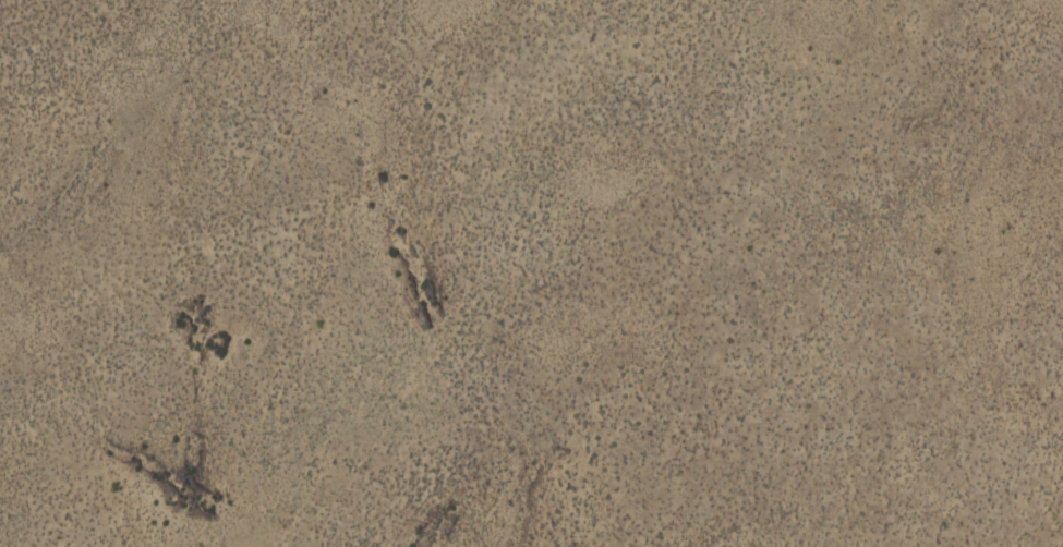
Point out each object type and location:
road: (119, 129)

